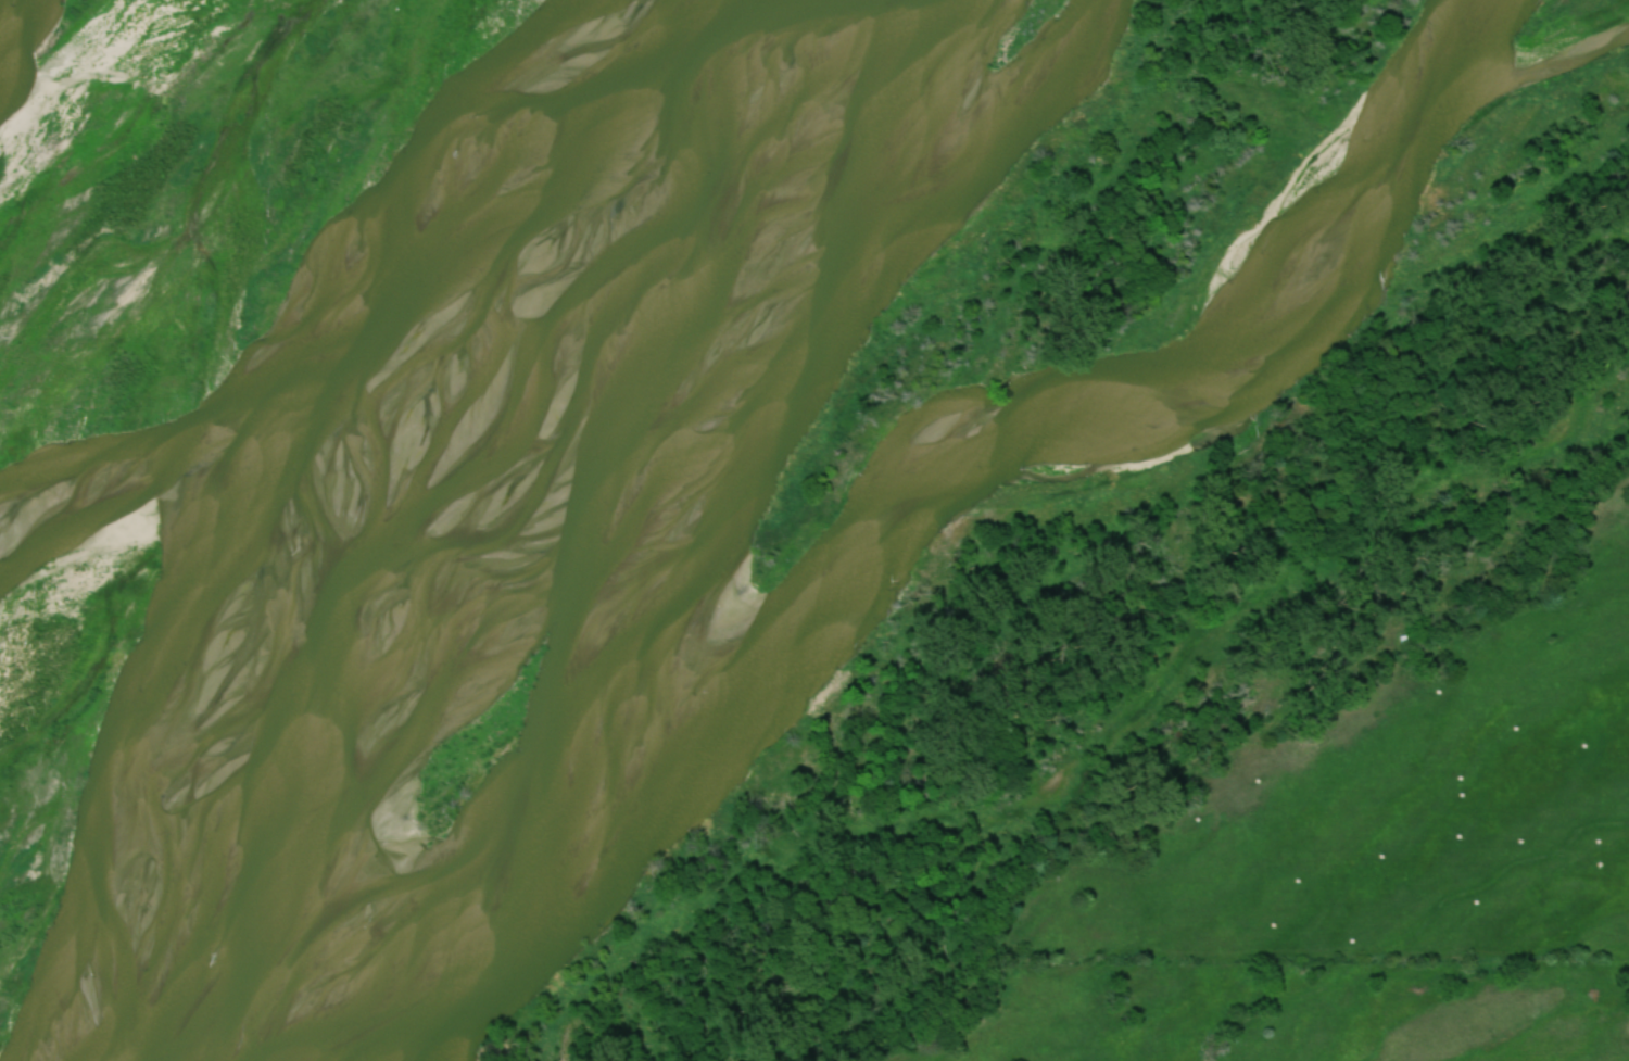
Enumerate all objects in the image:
river: (680, 553)

